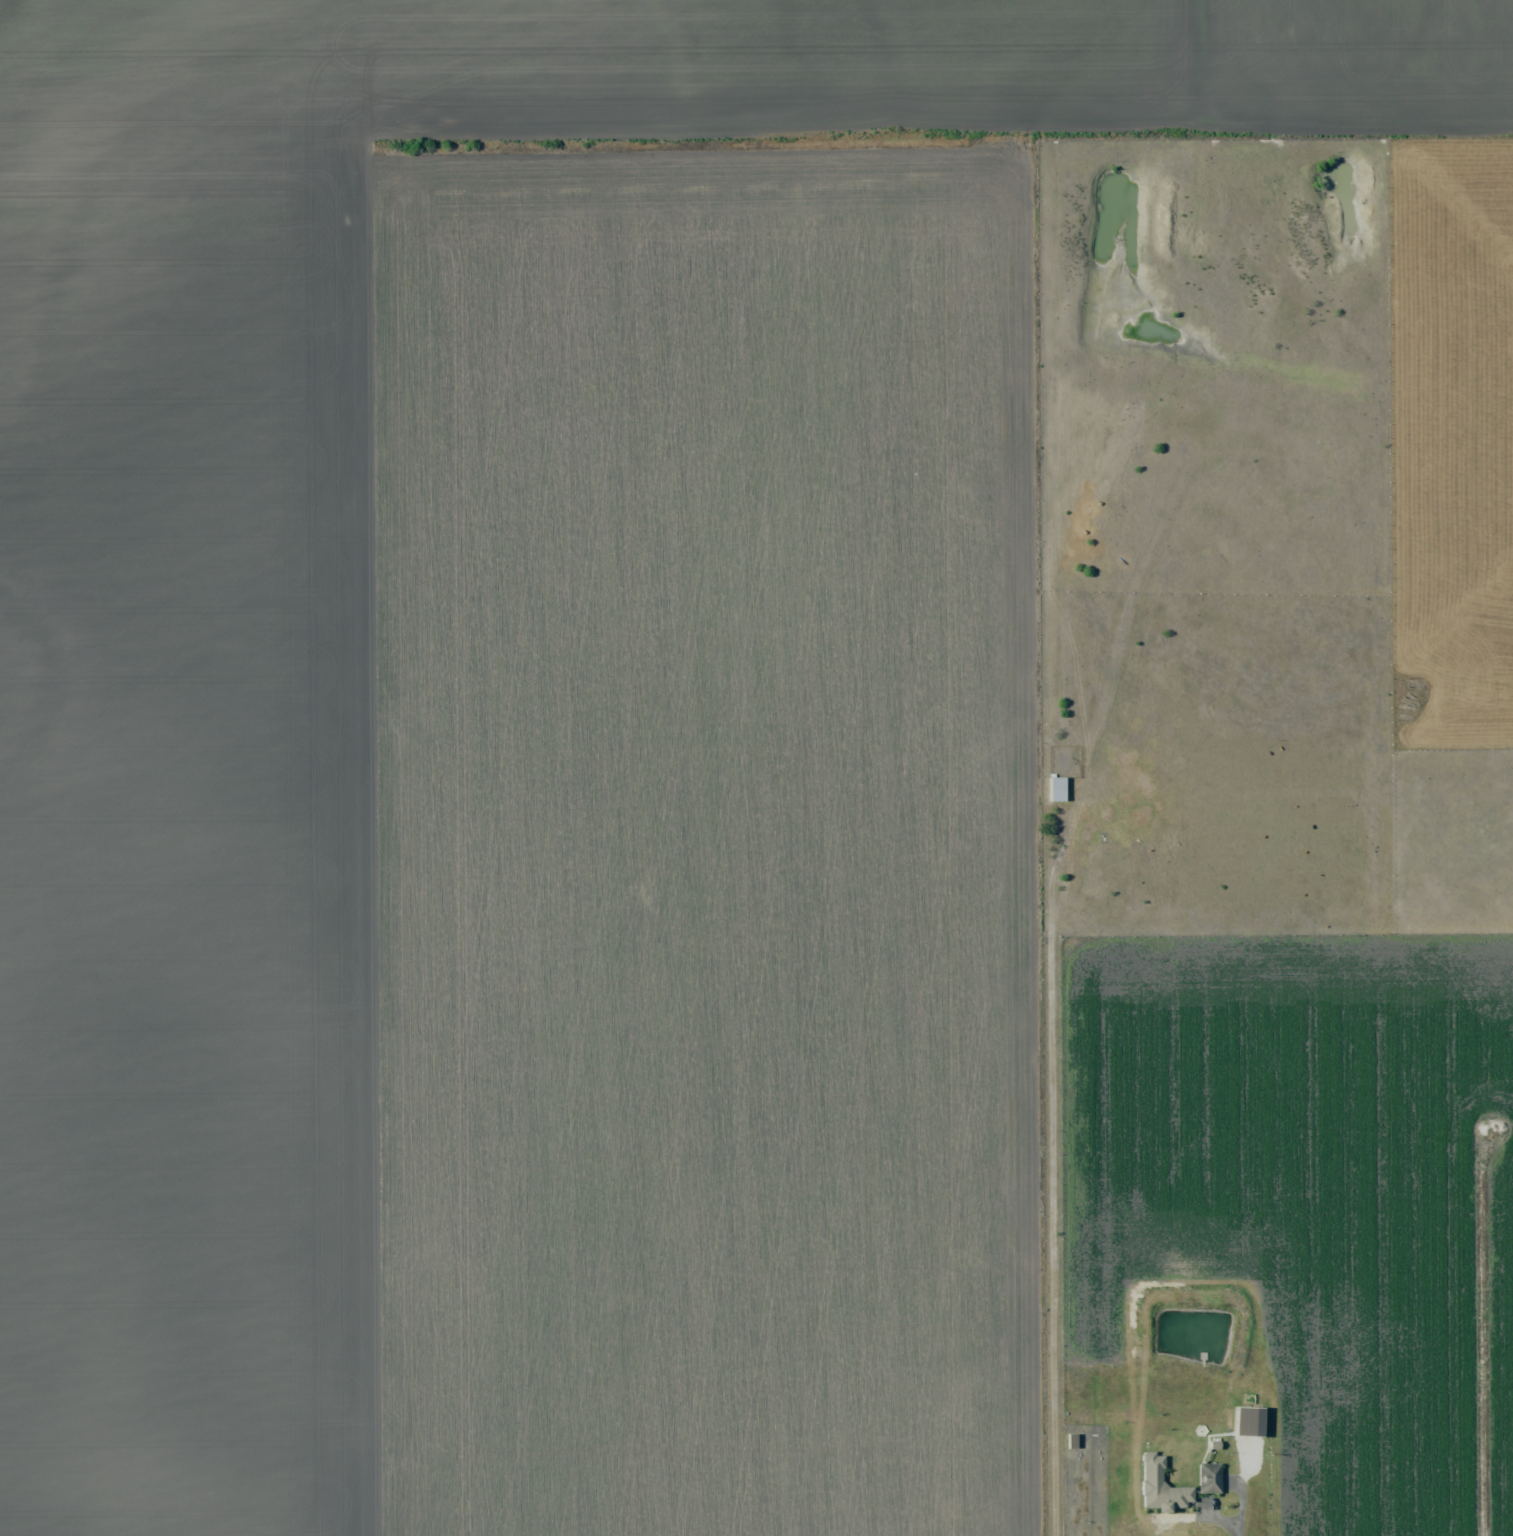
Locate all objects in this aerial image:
building: (1209, 1478)
building: (1161, 1486)
road: (1219, 1521)

